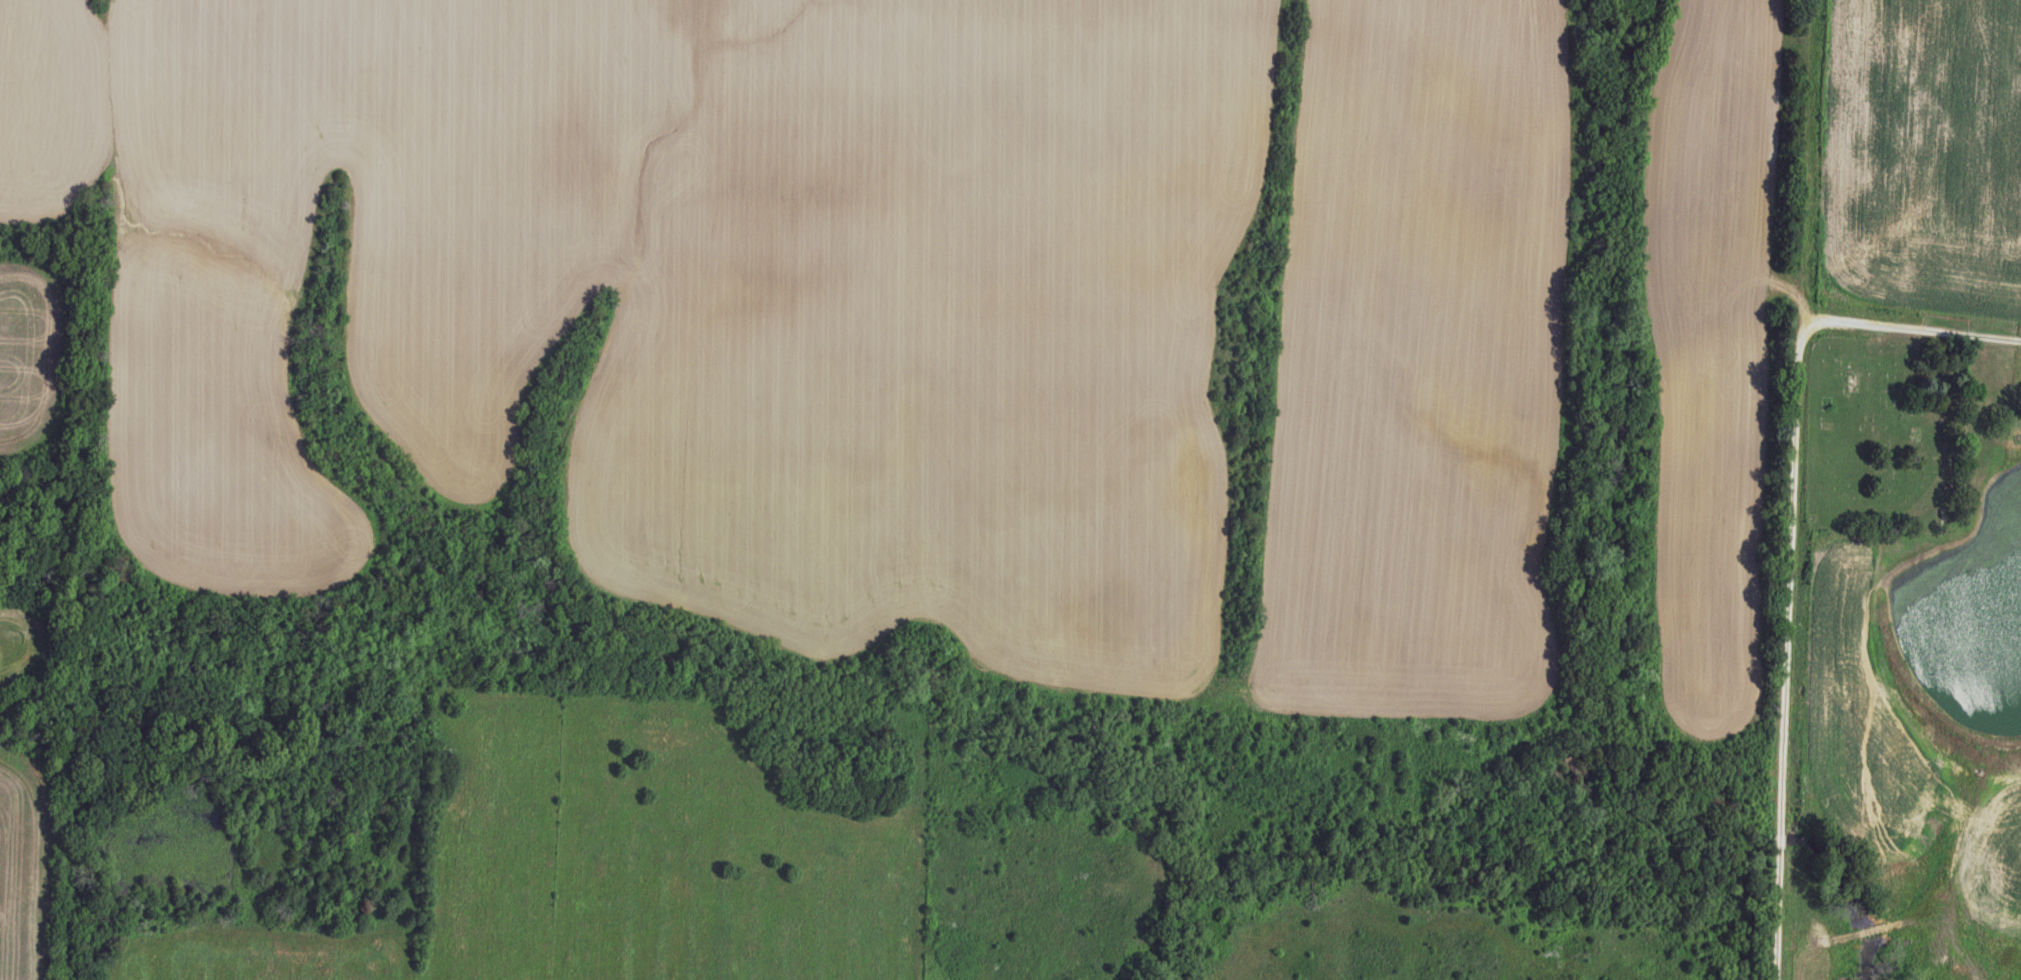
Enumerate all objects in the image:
road: (1912, 331)
park: (1883, 436)
road: (1793, 513)

